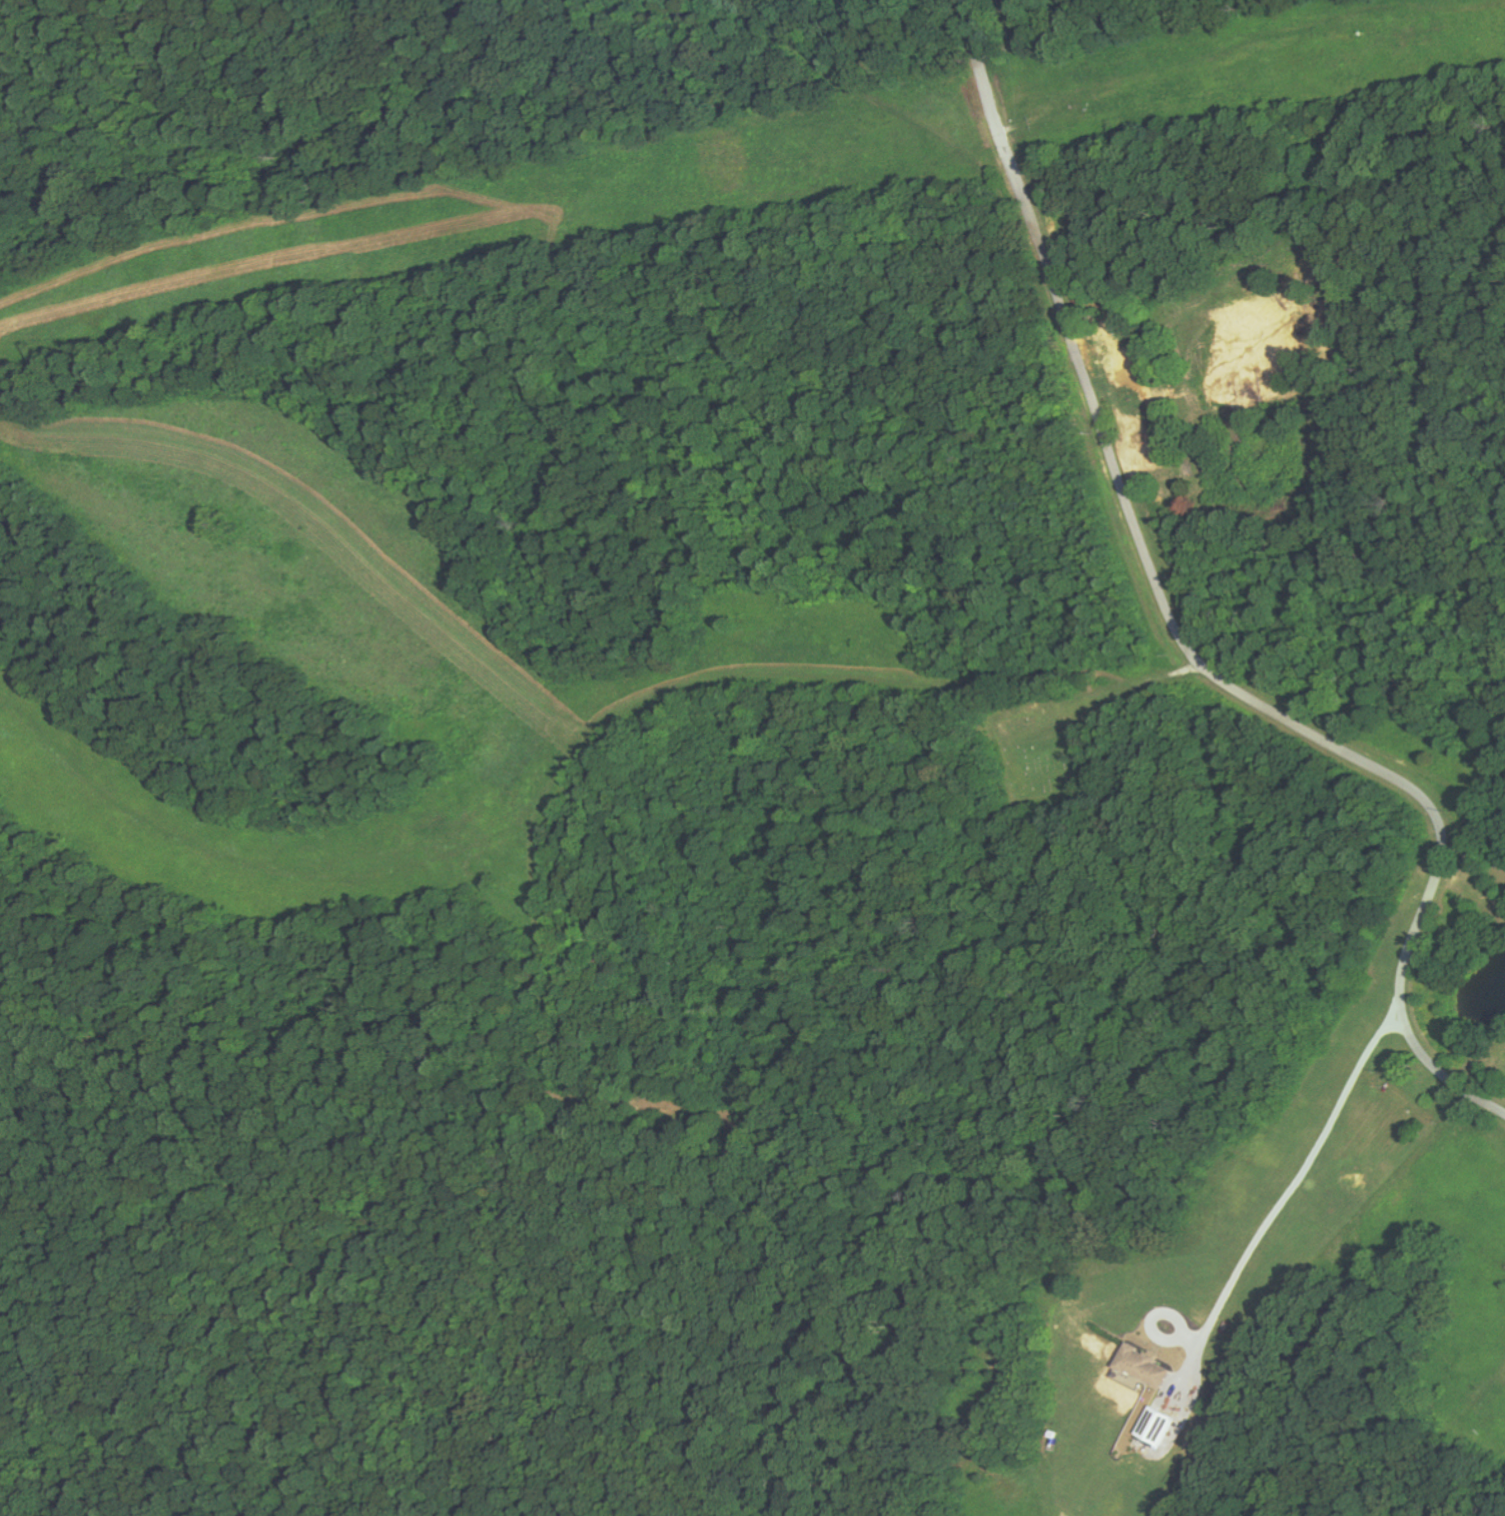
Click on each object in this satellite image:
road: (1181, 629)
park: (1041, 751)
road: (455, 1331)
building: (1139, 1365)

